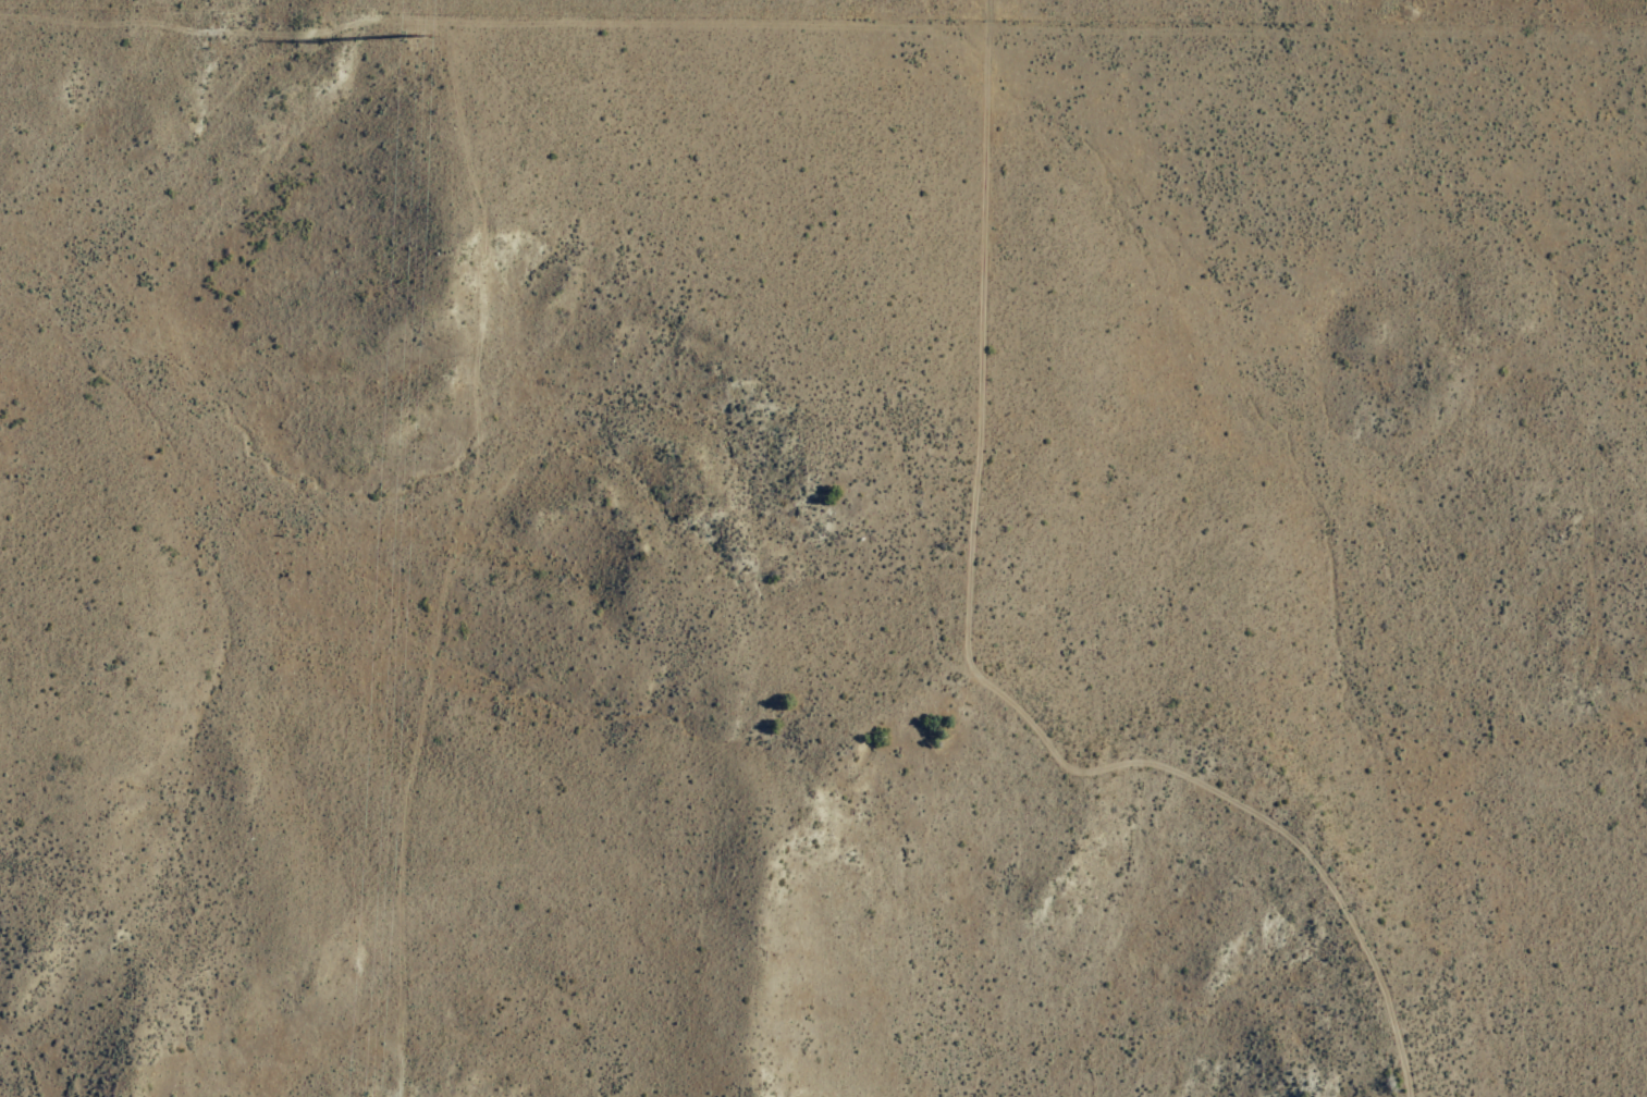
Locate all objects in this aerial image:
road: (491, 20)
power tower: (421, 47)
crop: (136, 249)
road: (450, 557)
road: (966, 668)

